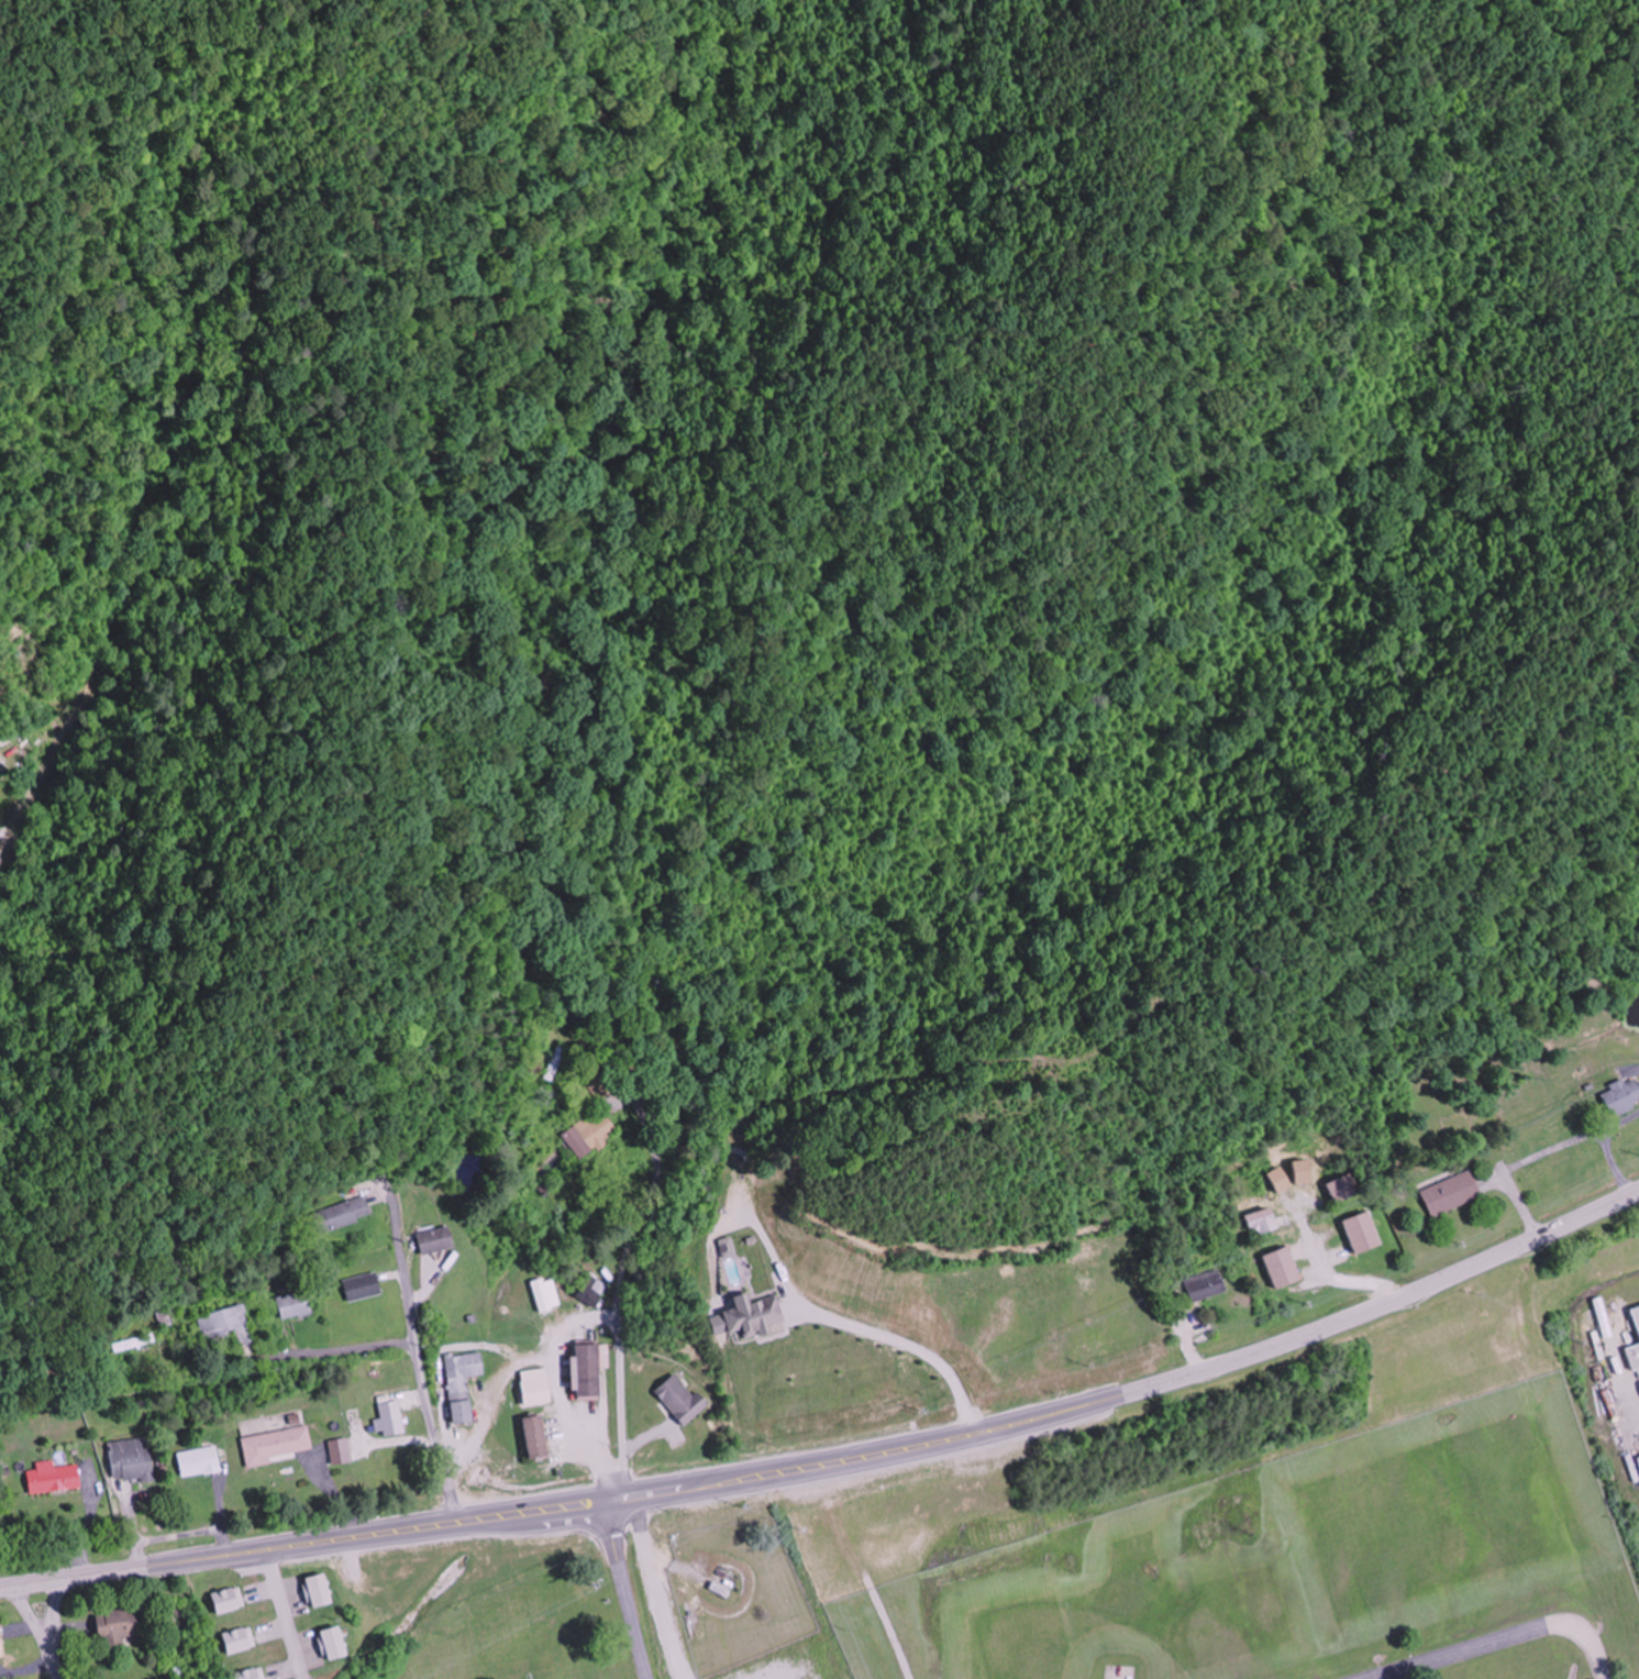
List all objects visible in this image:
building: (555, 1063)
building: (1624, 1097)
building: (598, 1118)
building: (1344, 1189)
building: (1453, 1193)
building: (342, 1214)
building: (1262, 1222)
building: (1363, 1231)
building: (434, 1240)
road: (633, 1248)
building: (1283, 1268)
building: (1207, 1285)
building: (361, 1286)
building: (591, 1290)
building: (292, 1304)
building: (1637, 1311)
building: (164, 1316)
building: (224, 1325)
building: (134, 1343)
road: (321, 1352)
building: (1635, 1357)
road: (414, 1365)
building: (588, 1369)
building: (462, 1383)
building: (535, 1388)
building: (683, 1401)
building: (391, 1418)
building: (535, 1437)
building: (275, 1445)
building: (132, 1460)
road: (838, 1460)
building: (198, 1461)
building: (53, 1478)
road: (624, 1588)
building: (229, 1600)
road: (284, 1614)
road: (31, 1620)
building: (115, 1627)
road: (51, 1630)
building: (240, 1639)
building: (0, 1645)
building: (251, 1674)

